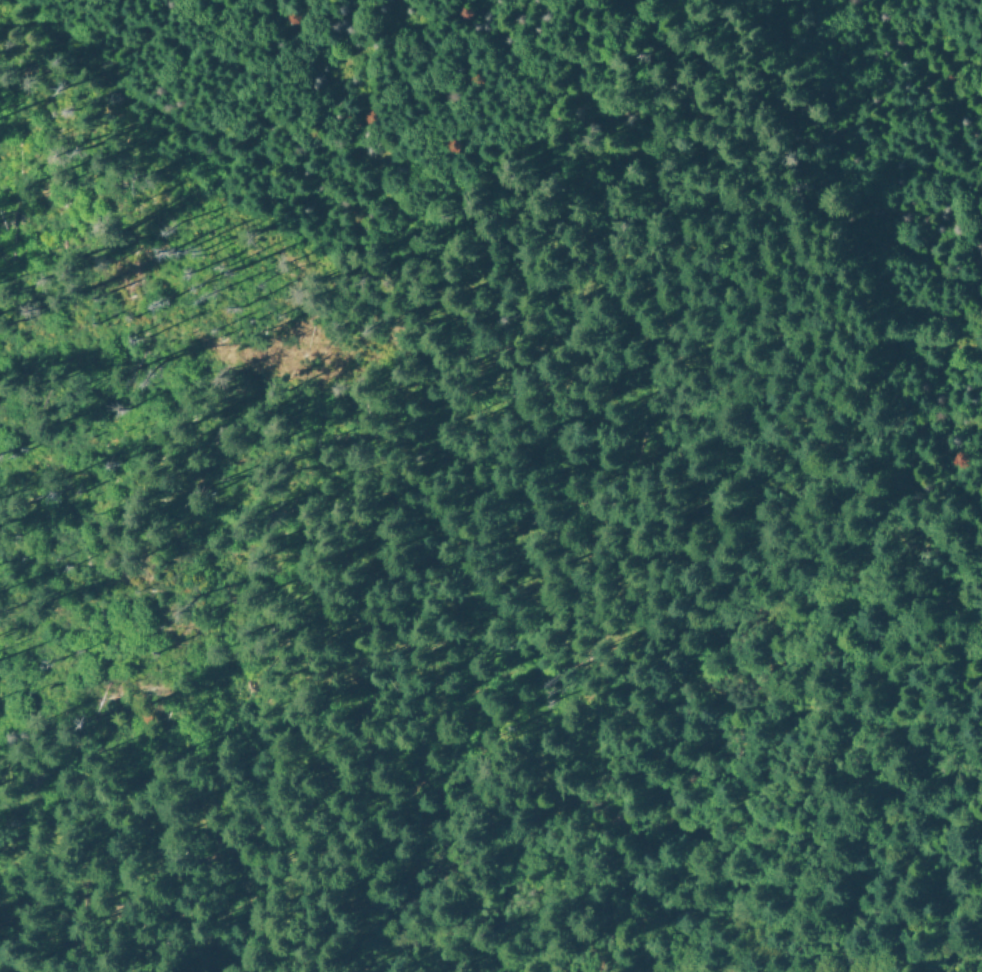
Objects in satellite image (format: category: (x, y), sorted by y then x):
road: (482, 788)

